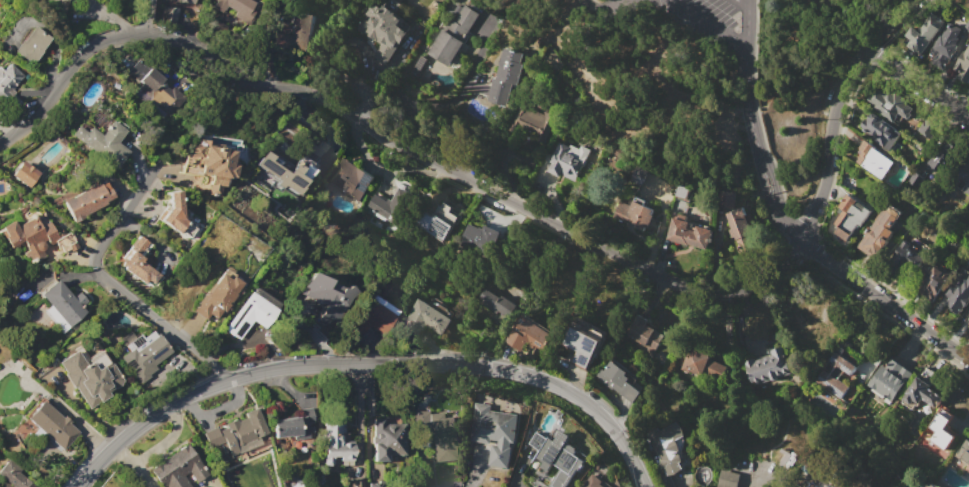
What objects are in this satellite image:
building: (181, 1)
road: (746, 1)
road: (600, 4)
building: (234, 7)
road: (146, 13)
road: (697, 17)
building: (383, 28)
building: (296, 33)
building: (922, 33)
building: (453, 36)
road: (741, 37)
building: (31, 45)
building: (944, 46)
building: (963, 63)
building: (417, 66)
building: (506, 77)
building: (8, 79)
building: (153, 82)
road: (914, 84)
building: (481, 88)
building: (889, 104)
road: (835, 112)
building: (542, 121)
road: (754, 123)
building: (927, 128)
building: (881, 131)
road: (382, 134)
building: (102, 142)
building: (940, 154)
building: (873, 159)
building: (567, 160)
building: (209, 165)
building: (286, 168)
building: (24, 174)
building: (639, 175)
building: (962, 178)
building: (351, 179)
building: (683, 191)
building: (727, 198)
building: (88, 200)
building: (389, 203)
building: (173, 213)
building: (635, 214)
building: (851, 217)
building: (441, 221)
building: (738, 223)
building: (879, 232)
building: (689, 233)
building: (481, 235)
building: (37, 238)
building: (907, 261)
building: (138, 263)
building: (933, 279)
road: (122, 288)
building: (958, 293)
building: (217, 296)
building: (326, 298)
building: (63, 302)
road: (879, 302)
building: (495, 303)
building: (968, 310)
building: (250, 315)
building: (372, 316)
building: (429, 316)
building: (967, 319)
building: (529, 334)
building: (645, 334)
building: (585, 343)
building: (145, 358)
road: (369, 363)
building: (701, 363)
building: (767, 366)
building: (836, 374)
building: (86, 379)
building: (618, 380)
building: (888, 380)
building: (923, 393)
building: (51, 425)
building: (294, 425)
building: (420, 430)
building: (942, 430)
building: (494, 431)
building: (236, 435)
building: (444, 438)
building: (387, 440)
building: (538, 440)
building: (336, 445)
building: (668, 446)
building: (966, 449)
building: (562, 457)
building: (178, 469)
building: (14, 475)
building: (728, 479)
building: (593, 481)
building: (354, 483)
building: (372, 484)
building: (293, 485)

